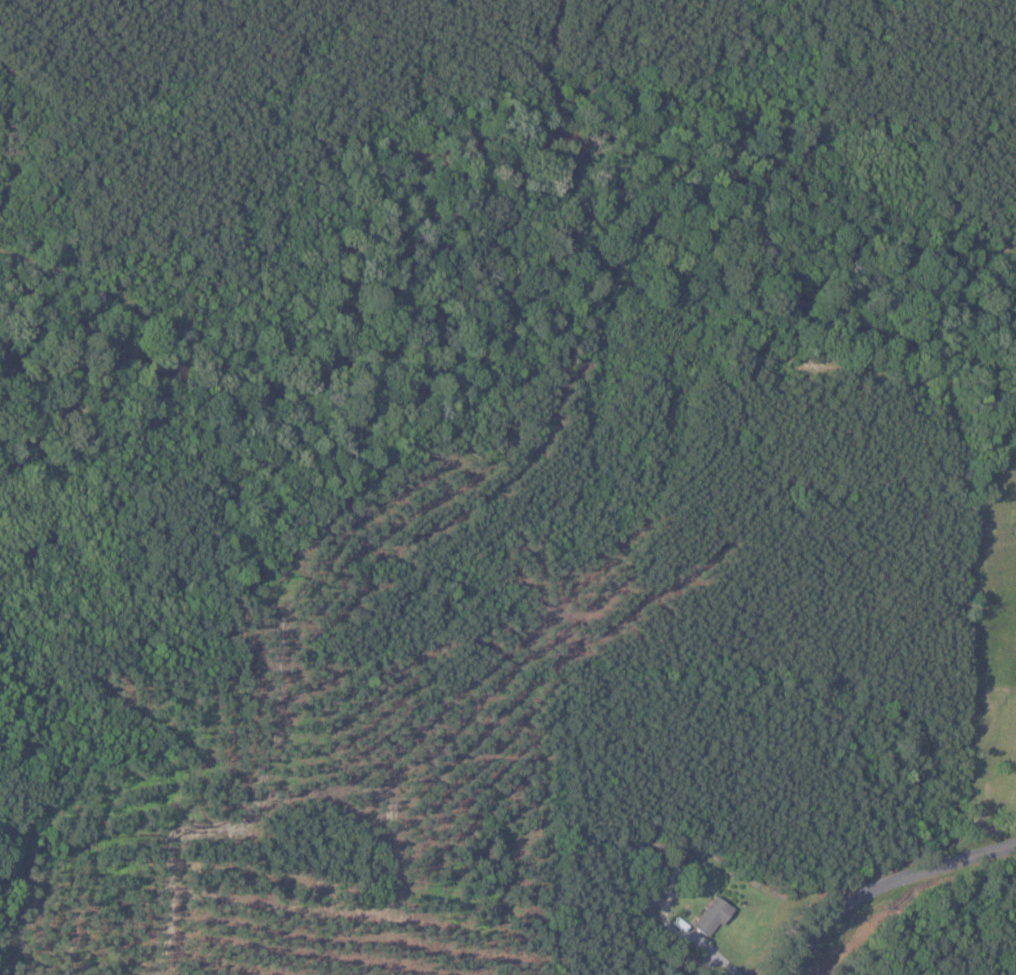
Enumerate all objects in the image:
road: (885, 883)
building: (710, 916)
road: (681, 932)

